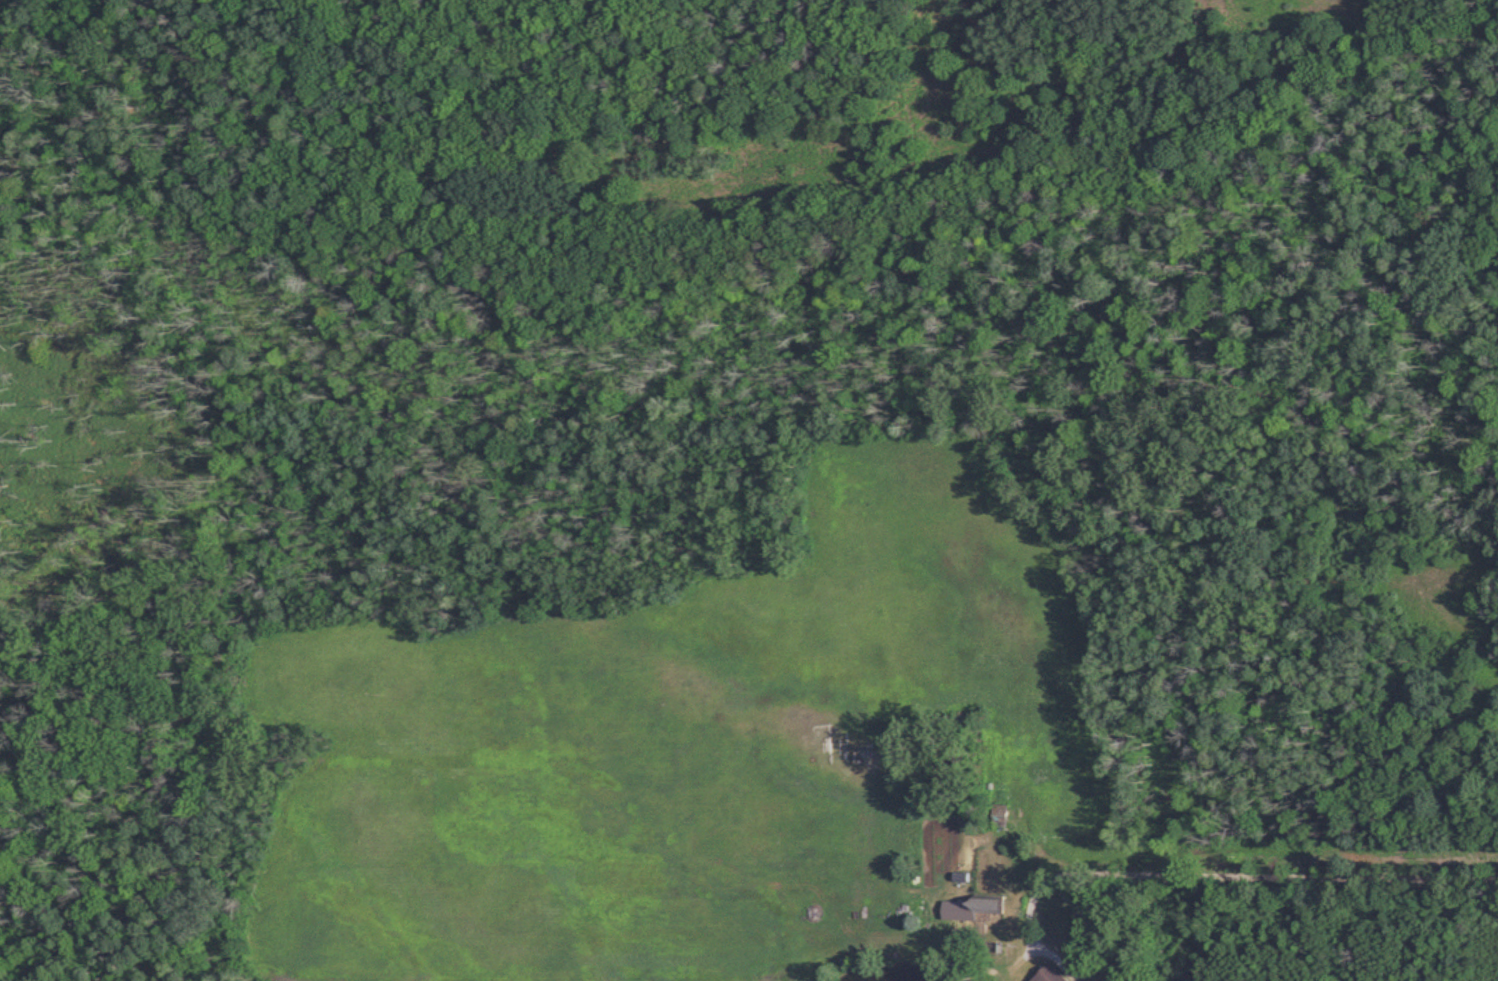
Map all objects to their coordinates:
road: (1233, 863)
building: (972, 910)
building: (1053, 975)

